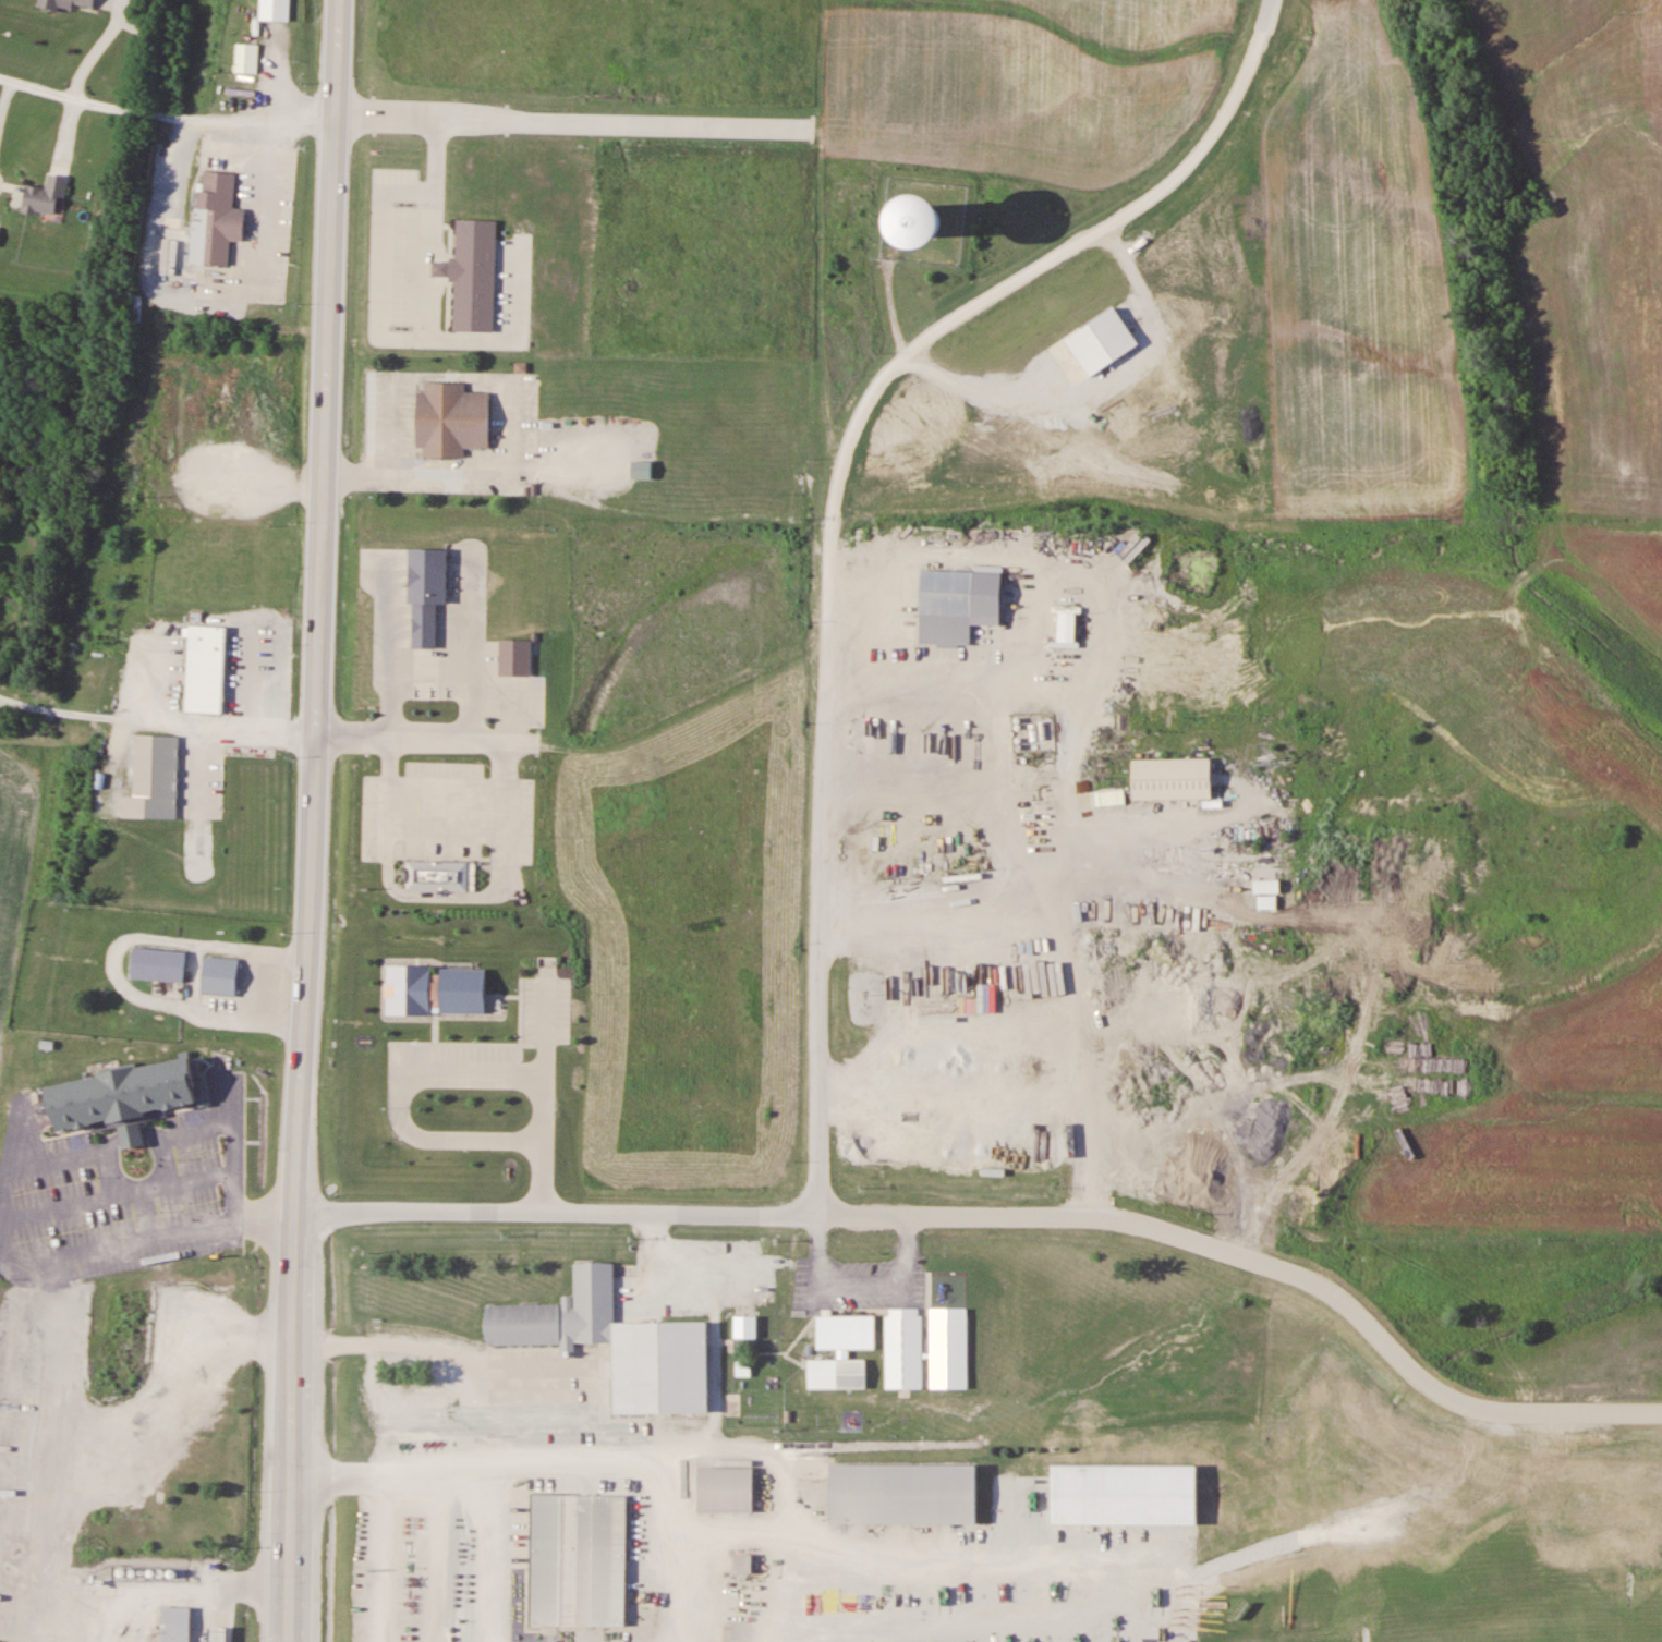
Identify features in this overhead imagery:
building: (65, 3)
building: (274, 10)
building: (246, 58)
road: (163, 117)
building: (46, 195)
building: (215, 209)
water tower: (923, 214)
building: (926, 215)
building: (0, 228)
road: (328, 258)
building: (474, 267)
building: (450, 414)
building: (642, 470)
road: (833, 510)
building: (429, 585)
building: (957, 599)
building: (1067, 627)
building: (209, 661)
building: (156, 773)
building: (1173, 773)
building: (445, 868)
building: (158, 965)
building: (220, 977)
building: (439, 985)
building: (578, 1072)
road: (301, 1080)
building: (142, 1086)
road: (112, 1177)
road: (59, 1206)
road: (1008, 1217)
road: (268, 1218)
road: (118, 1248)
building: (566, 1307)
building: (849, 1327)
building: (126, 1340)
building: (907, 1346)
building: (954, 1346)
building: (671, 1363)
building: (839, 1367)
building: (728, 1484)
building: (907, 1488)
building: (1132, 1499)
building: (586, 1556)
building: (743, 1564)
building: (175, 1625)
building: (217, 1635)

